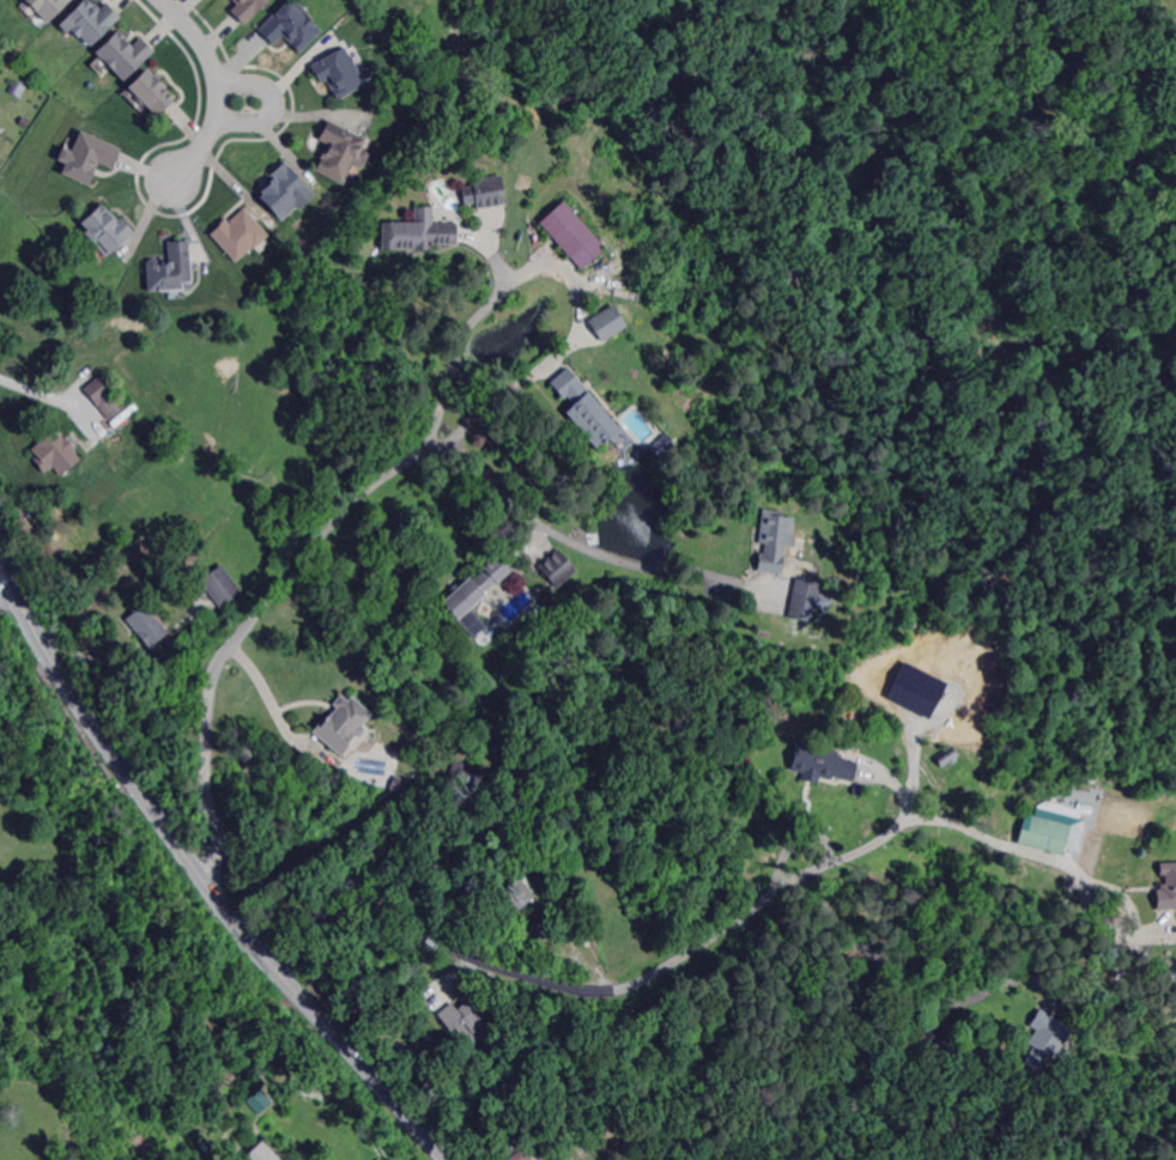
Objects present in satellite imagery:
building: (47, 6)
building: (249, 7)
building: (90, 20)
building: (295, 25)
building: (4, 53)
building: (123, 54)
building: (339, 74)
building: (19, 90)
road: (214, 90)
building: (150, 92)
road: (230, 98)
building: (24, 122)
building: (340, 153)
building: (85, 154)
building: (285, 192)
building: (484, 192)
building: (105, 231)
building: (418, 232)
building: (240, 233)
building: (574, 236)
building: (171, 269)
road: (562, 271)
building: (612, 323)
road: (30, 389)
building: (104, 395)
building: (584, 408)
building: (661, 445)
building: (55, 453)
road: (352, 504)
building: (770, 541)
building: (557, 567)
road: (5, 582)
building: (220, 585)
building: (477, 587)
building: (800, 600)
building: (147, 626)
building: (343, 723)
building: (248, 757)
building: (820, 765)
building: (457, 767)
building: (398, 784)
building: (569, 790)
road: (942, 818)
building: (1039, 834)
road: (196, 870)
building: (1166, 886)
building: (514, 897)
road: (516, 968)
road: (907, 977)
building: (462, 1021)
building: (1044, 1039)
building: (257, 1099)
building: (508, 1147)
building: (263, 1153)
building: (519, 1155)
building: (566, 1158)
building: (570, 1158)
building: (584, 1159)
building: (587, 1159)

